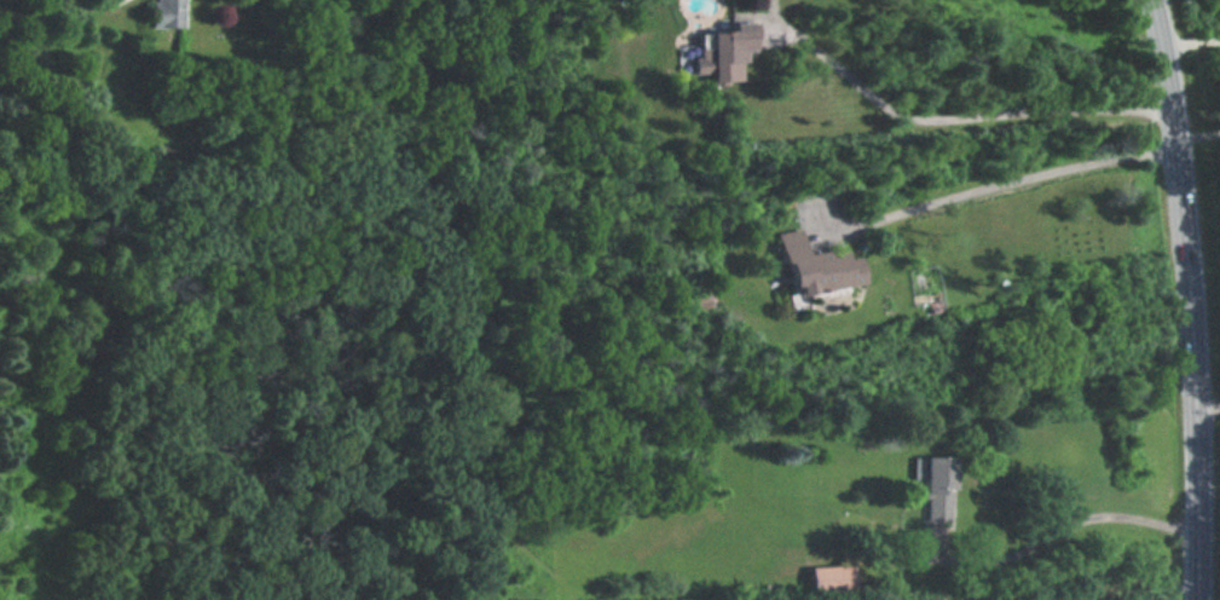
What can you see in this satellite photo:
building: (166, 13)
road: (1190, 45)
building: (721, 52)
road: (961, 59)
road: (880, 93)
road: (1093, 109)
road: (1198, 138)
road: (1012, 173)
building: (817, 266)
road: (1192, 298)
road: (1209, 409)
building: (937, 489)
road: (1056, 530)
building: (831, 578)

